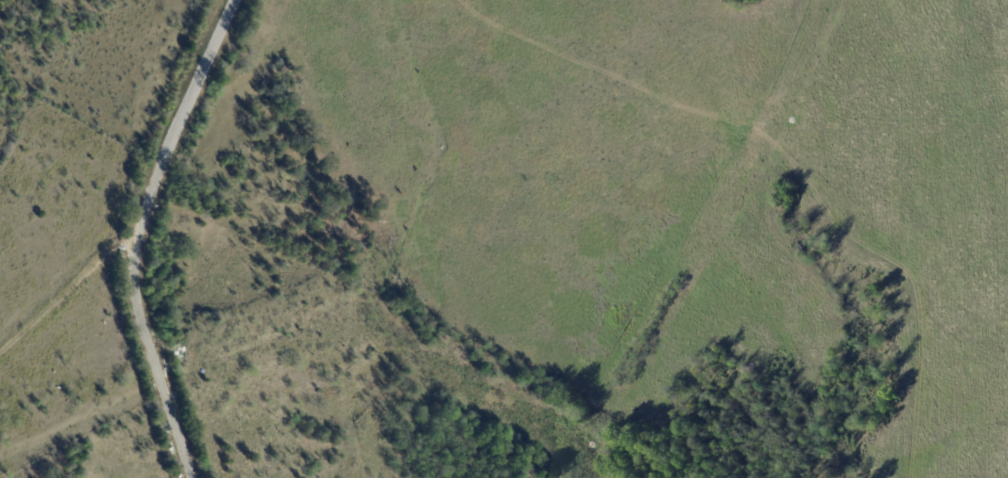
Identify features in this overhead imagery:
road: (142, 233)
road: (67, 288)

